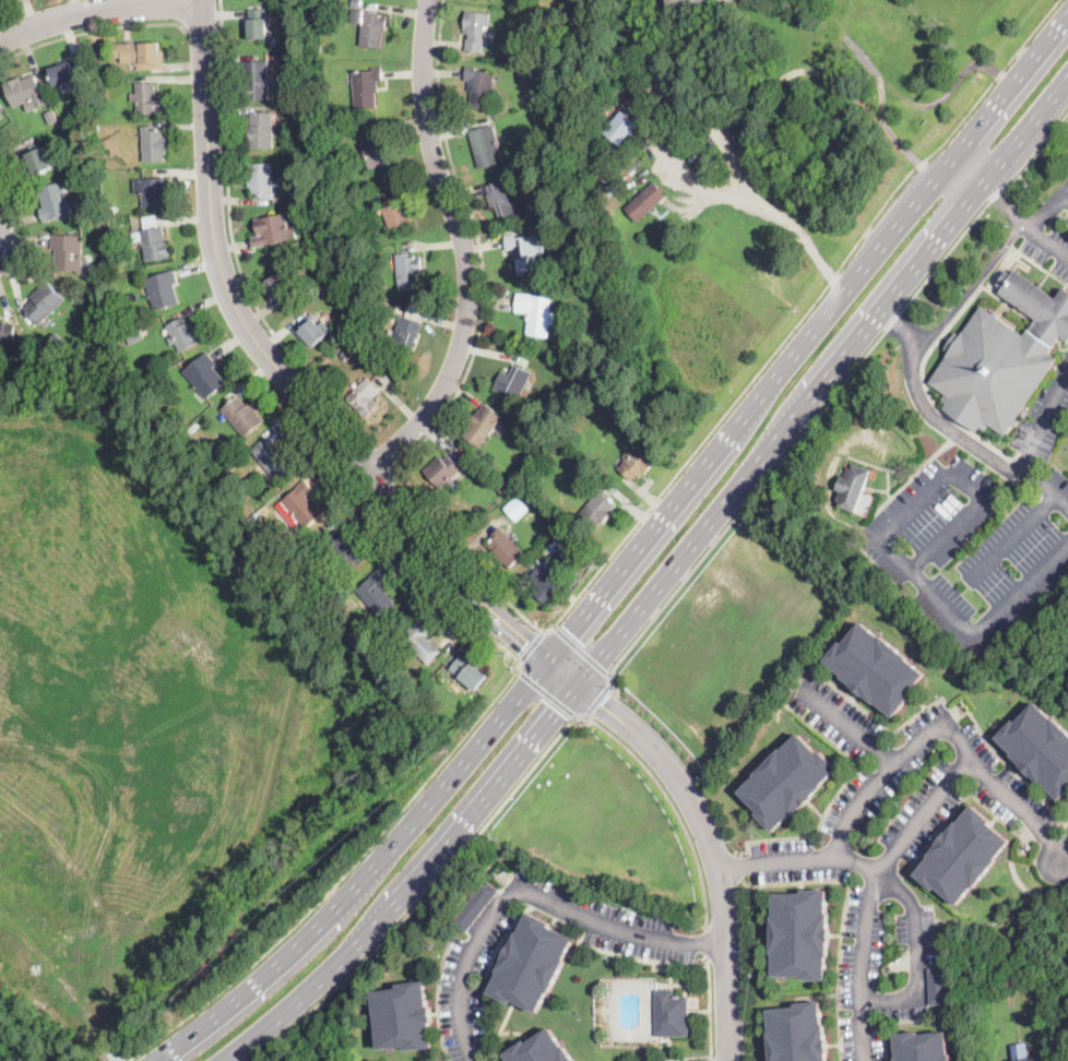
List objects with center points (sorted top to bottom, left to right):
building: (685, 1)
road: (716, 1)
building: (357, 3)
road: (98, 10)
building: (272, 12)
building: (356, 16)
building: (259, 24)
road: (92, 28)
building: (372, 28)
building: (477, 29)
building: (141, 55)
building: (276, 56)
building: (69, 72)
building: (258, 81)
building: (367, 86)
building: (479, 87)
building: (24, 91)
building: (150, 99)
building: (1, 108)
building: (557, 110)
building: (52, 117)
building: (94, 118)
building: (84, 119)
building: (95, 128)
building: (621, 128)
building: (79, 130)
building: (262, 130)
building: (152, 144)
building: (486, 146)
building: (630, 151)
building: (377, 153)
building: (39, 160)
road: (978, 168)
building: (262, 179)
building: (530, 190)
building: (153, 192)
building: (502, 199)
building: (56, 202)
building: (646, 202)
road: (1012, 203)
road: (1047, 205)
building: (112, 210)
building: (395, 212)
road: (792, 224)
building: (274, 230)
building: (371, 233)
parking lot: (1051, 233)
building: (105, 237)
road: (1045, 237)
building: (153, 240)
road: (482, 245)
road: (233, 246)
building: (580, 247)
road: (464, 249)
building: (69, 252)
building: (523, 253)
building: (410, 271)
road: (973, 284)
building: (163, 290)
building: (340, 290)
building: (280, 291)
building: (45, 302)
building: (537, 313)
building: (364, 318)
building: (313, 330)
building: (406, 332)
building: (7, 334)
building: (183, 334)
building: (127, 341)
building: (59, 342)
building: (49, 349)
building: (344, 356)
building: (1002, 357)
road: (282, 371)
building: (205, 375)
building: (513, 382)
building: (365, 396)
road: (829, 396)
road: (732, 401)
road: (927, 406)
building: (244, 416)
building: (483, 425)
road: (1032, 446)
building: (532, 453)
road: (383, 456)
building: (274, 457)
building: (637, 463)
road: (953, 469)
building: (442, 470)
building: (853, 487)
building: (506, 488)
building: (521, 504)
building: (301, 505)
building: (598, 509)
parking lot: (980, 534)
road: (1011, 536)
building: (347, 548)
building: (505, 548)
road: (629, 555)
road: (662, 581)
building: (547, 584)
building: (378, 593)
road: (987, 617)
traffic signals: (569, 630)
building: (422, 641)
traffic signals: (526, 642)
road: (532, 644)
road: (580, 649)
building: (876, 669)
building: (408, 671)
building: (470, 672)
road: (546, 692)
building: (426, 693)
road: (596, 699)
traffic signals: (603, 703)
traffic signals: (557, 710)
road: (935, 728)
building: (1040, 748)
road: (891, 758)
road: (431, 773)
building: (788, 782)
parking lot: (875, 792)
road: (835, 794)
road: (507, 795)
parking lot: (1013, 797)
road: (1018, 806)
road: (703, 828)
building: (964, 856)
road: (739, 863)
road: (887, 878)
road: (874, 893)
road: (531, 898)
building: (476, 906)
road: (843, 914)
building: (802, 935)
road: (707, 940)
building: (429, 945)
road: (634, 955)
parking lot: (467, 958)
parking lot: (912, 963)
building: (532, 964)
parking lot: (862, 977)
building: (939, 986)
road: (710, 1009)
building: (604, 1010)
building: (672, 1014)
building: (405, 1017)
building: (798, 1034)
building: (923, 1047)
building: (541, 1049)
road: (680, 1056)
building: (1034, 1059)
parking lot: (685, 1060)

